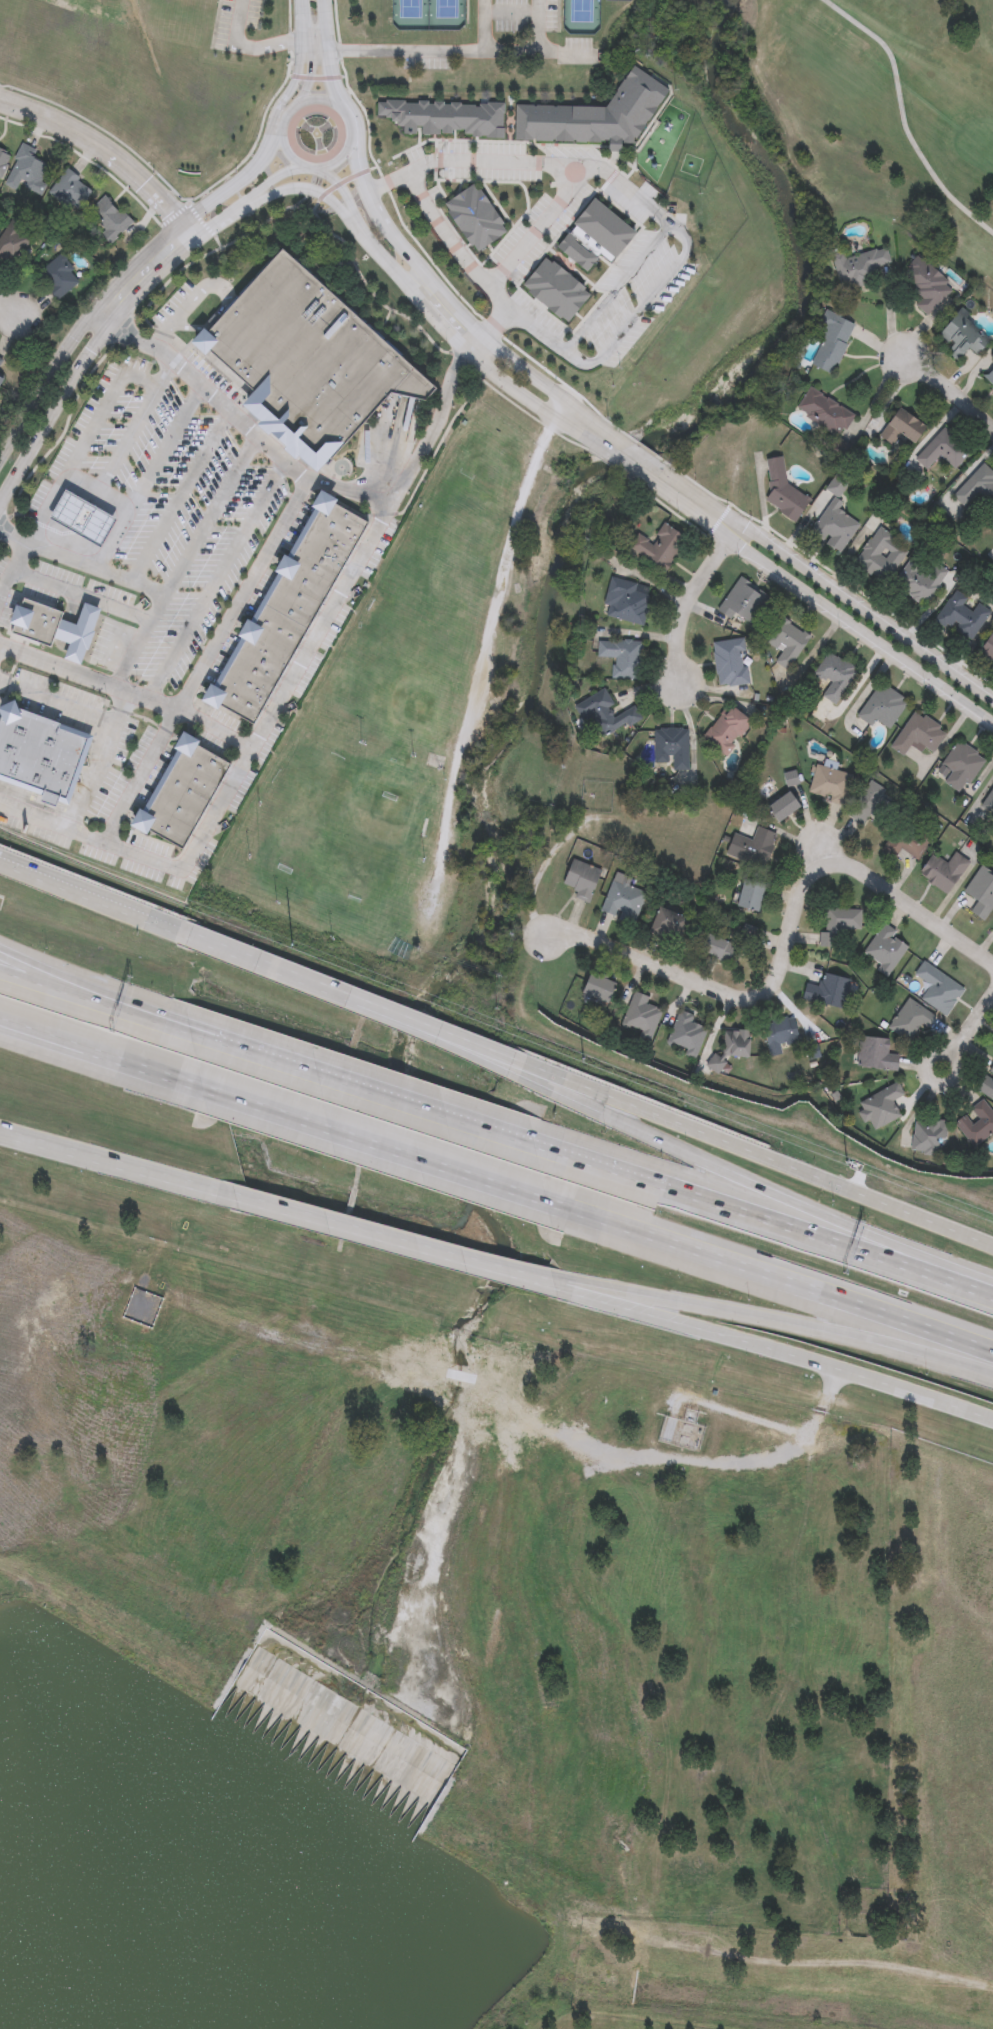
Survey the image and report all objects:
park: (427, 16)
park: (581, 17)
road: (307, 21)
road: (484, 26)
road: (541, 26)
road: (319, 46)
road: (247, 47)
road: (460, 52)
road: (331, 60)
road: (308, 81)
road: (285, 97)
park: (887, 107)
building: (596, 116)
road: (903, 117)
building: (444, 119)
road: (351, 127)
road: (369, 132)
road: (285, 142)
road: (102, 147)
road: (547, 166)
road: (238, 184)
road: (389, 184)
road: (270, 185)
road: (312, 190)
building: (475, 218)
road: (218, 228)
road: (536, 230)
road: (192, 235)
building: (596, 237)
road: (400, 245)
road: (452, 245)
road: (137, 269)
road: (152, 285)
building: (926, 287)
road: (618, 290)
building: (558, 292)
road: (10, 306)
road: (642, 307)
road: (180, 309)
road: (214, 317)
road: (440, 320)
road: (494, 320)
road: (103, 324)
road: (536, 330)
road: (157, 335)
road: (132, 338)
building: (963, 339)
road: (476, 342)
building: (306, 363)
road: (527, 367)
road: (44, 389)
road: (948, 395)
road: (105, 408)
road: (567, 410)
road: (53, 420)
road: (598, 420)
road: (136, 427)
road: (166, 449)
road: (651, 457)
road: (628, 462)
park: (486, 465)
road: (334, 489)
road: (180, 498)
road: (129, 509)
road: (45, 510)
road: (210, 516)
building: (83, 520)
gas station: (83, 520)
road: (19, 554)
park: (444, 557)
road: (94, 571)
road: (218, 581)
road: (836, 581)
road: (80, 596)
road: (696, 599)
road: (827, 599)
building: (286, 613)
building: (56, 629)
road: (140, 641)
road: (478, 654)
building: (622, 657)
road: (206, 661)
building: (729, 663)
building: (834, 677)
park: (405, 678)
road: (129, 691)
road: (58, 703)
building: (605, 714)
building: (726, 730)
building: (671, 746)
building: (41, 755)
road: (102, 762)
road: (238, 778)
building: (830, 782)
building: (181, 794)
building: (867, 803)
building: (782, 806)
road: (824, 842)
building: (904, 842)
park: (344, 843)
building: (752, 847)
building: (943, 872)
building: (581, 880)
road: (87, 894)
building: (749, 896)
building: (622, 901)
road: (912, 906)
building: (667, 924)
building: (836, 927)
building: (715, 947)
building: (885, 950)
road: (294, 976)
road: (89, 986)
building: (937, 988)
building: (597, 989)
building: (828, 990)
road: (724, 994)
road: (90, 1007)
building: (639, 1016)
building: (908, 1021)
road: (966, 1032)
building: (685, 1034)
building: (776, 1036)
road: (217, 1043)
road: (467, 1043)
road: (217, 1048)
building: (731, 1048)
building: (992, 1048)
road: (471, 1050)
road: (84, 1054)
building: (876, 1054)
building: (987, 1085)
road: (398, 1105)
building: (880, 1107)
building: (976, 1123)
building: (926, 1136)
road: (365, 1148)
road: (757, 1153)
road: (108, 1163)
road: (715, 1166)
road: (720, 1204)
road: (360, 1231)
road: (947, 1277)
road: (585, 1286)
road: (778, 1286)
road: (570, 1288)
road: (829, 1338)
road: (814, 1362)
road: (775, 1428)
dam: (341, 1734)

